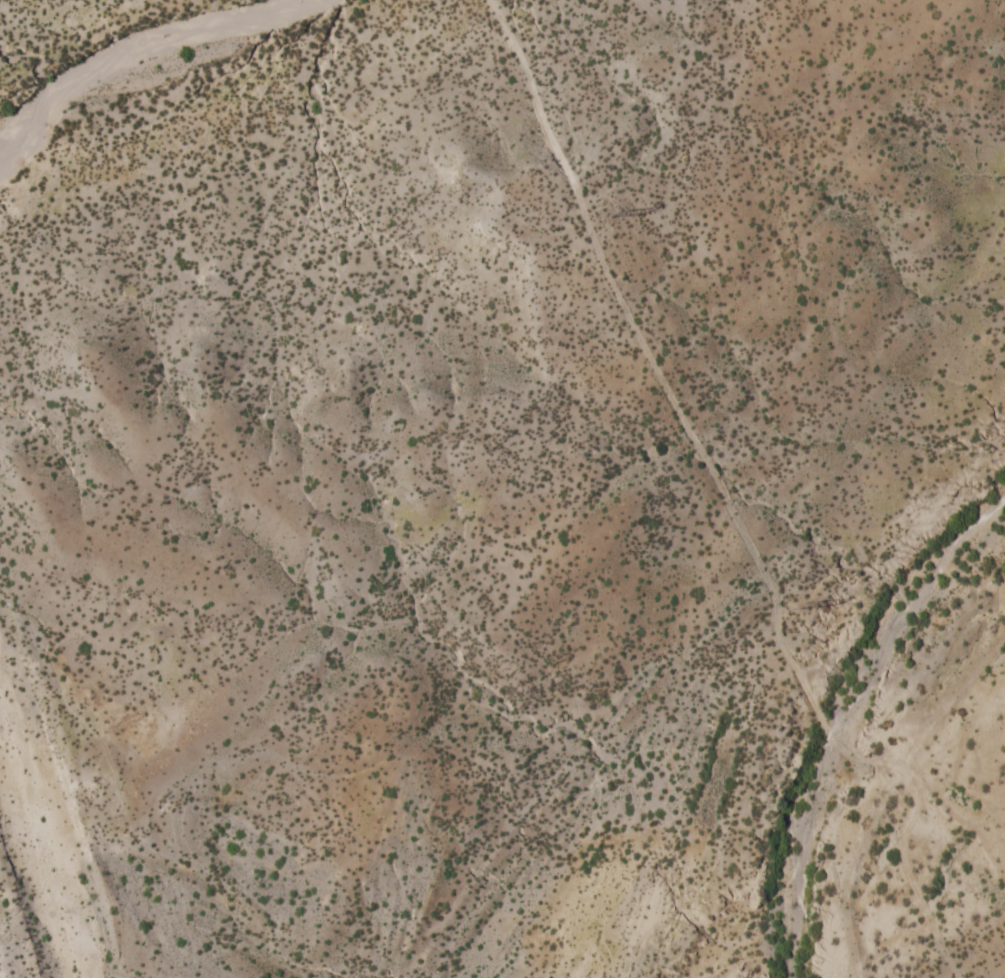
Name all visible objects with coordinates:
power tower: (617, 213)
power tower: (803, 603)

